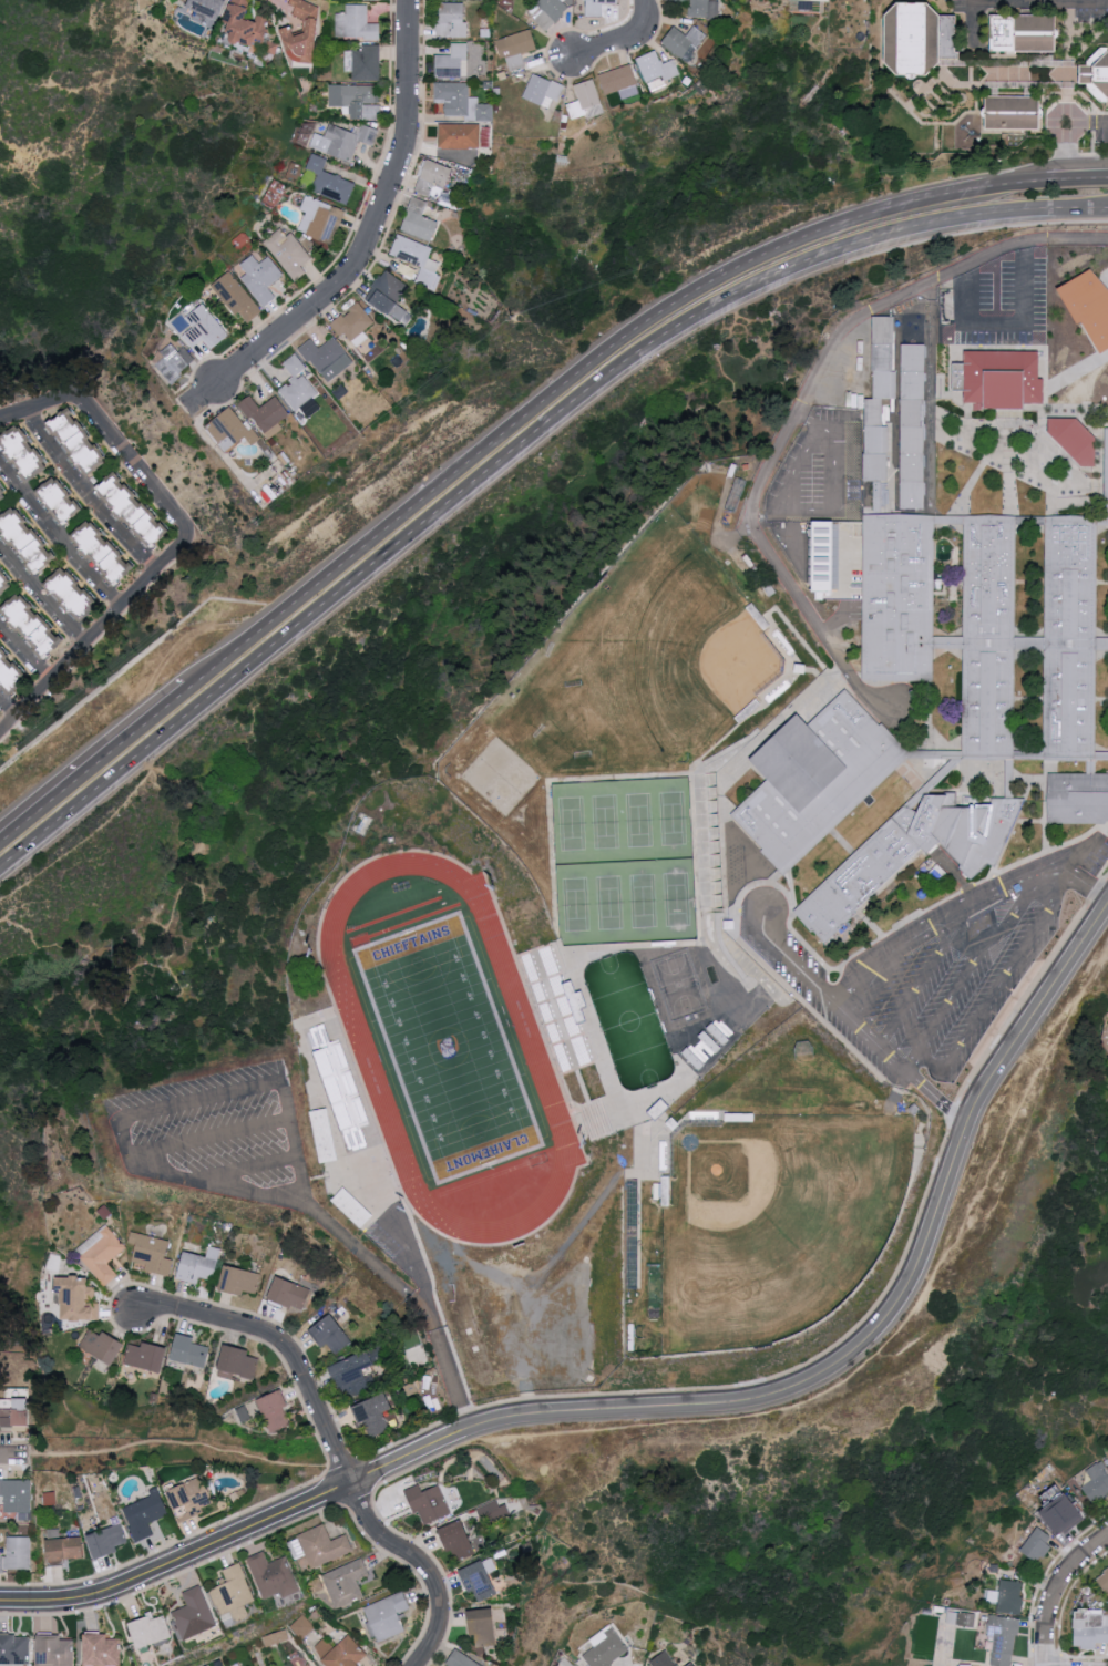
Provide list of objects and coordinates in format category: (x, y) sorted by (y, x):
road: (1024, 3)
building: (208, 7)
building: (596, 7)
building: (704, 9)
building: (550, 11)
building: (451, 19)
building: (355, 23)
building: (249, 28)
building: (310, 30)
building: (1022, 34)
building: (916, 40)
road: (625, 41)
building: (686, 42)
building: (516, 48)
building: (363, 62)
building: (451, 62)
building: (657, 69)
building: (1096, 76)
building: (618, 79)
building: (543, 91)
building: (584, 99)
building: (358, 100)
building: (460, 101)
building: (595, 111)
building: (1010, 115)
road: (1087, 127)
building: (460, 135)
building: (342, 140)
road: (1067, 153)
building: (434, 175)
road: (1066, 179)
building: (330, 181)
building: (321, 219)
building: (419, 220)
road: (366, 238)
building: (288, 253)
building: (417, 258)
building: (261, 277)
building: (389, 295)
building: (237, 296)
building: (1087, 306)
building: (353, 323)
building: (199, 327)
road: (1006, 327)
building: (327, 357)
building: (883, 358)
building: (173, 361)
road: (576, 377)
building: (997, 379)
building: (297, 384)
road: (800, 407)
building: (913, 412)
building: (266, 414)
building: (230, 430)
building: (1077, 439)
building: (80, 441)
road: (841, 442)
building: (874, 442)
building: (23, 452)
road: (516, 455)
building: (1106, 460)
road: (796, 466)
road: (86, 493)
building: (1, 496)
building: (61, 500)
building: (135, 510)
road: (55, 538)
building: (27, 539)
road: (182, 541)
building: (104, 551)
building: (825, 556)
building: (4, 582)
road: (42, 594)
building: (73, 595)
building: (34, 625)
building: (993, 636)
park: (632, 648)
road: (23, 654)
park: (706, 664)
building: (11, 672)
road: (6, 712)
road: (92, 760)
building: (818, 774)
building: (1081, 802)
road: (1078, 858)
building: (916, 861)
park: (624, 864)
road: (1022, 883)
road: (956, 942)
road: (797, 968)
parking lot: (938, 970)
road: (966, 974)
road: (1001, 984)
road: (915, 991)
road: (863, 996)
building: (705, 1047)
park: (448, 1049)
track: (448, 1049)
road: (283, 1100)
road: (199, 1101)
road: (937, 1101)
building: (325, 1134)
parking lot: (217, 1137)
road: (208, 1140)
road: (123, 1141)
road: (250, 1171)
road: (252, 1192)
building: (352, 1206)
park: (757, 1222)
building: (101, 1252)
building: (152, 1253)
building: (54, 1259)
building: (199, 1265)
building: (239, 1279)
building: (290, 1293)
building: (78, 1298)
road: (408, 1300)
road: (896, 1312)
building: (330, 1334)
building: (103, 1345)
building: (189, 1350)
building: (146, 1356)
building: (238, 1360)
building: (353, 1374)
building: (276, 1410)
building: (373, 1413)
road: (334, 1444)
road: (11, 1458)
road: (410, 1459)
building: (1097, 1482)
building: (16, 1494)
building: (192, 1498)
building: (429, 1503)
building: (494, 1512)
building: (1064, 1513)
building: (144, 1514)
building: (459, 1540)
building: (107, 1541)
building: (1038, 1543)
building: (322, 1545)
building: (65, 1549)
building: (16, 1553)
road: (181, 1563)
building: (273, 1575)
building: (1104, 1578)
building: (479, 1580)
building: (346, 1582)
road: (1055, 1590)
building: (234, 1593)
building: (1009, 1596)
building: (194, 1613)
building: (387, 1615)
building: (960, 1617)
building: (301, 1626)
building: (483, 1626)
building: (1090, 1628)
building: (150, 1629)
building: (1003, 1638)
building: (606, 1647)
building: (14, 1648)
building: (54, 1649)
building: (102, 1649)
building: (340, 1652)
building: (461, 1659)
building: (664, 1659)

